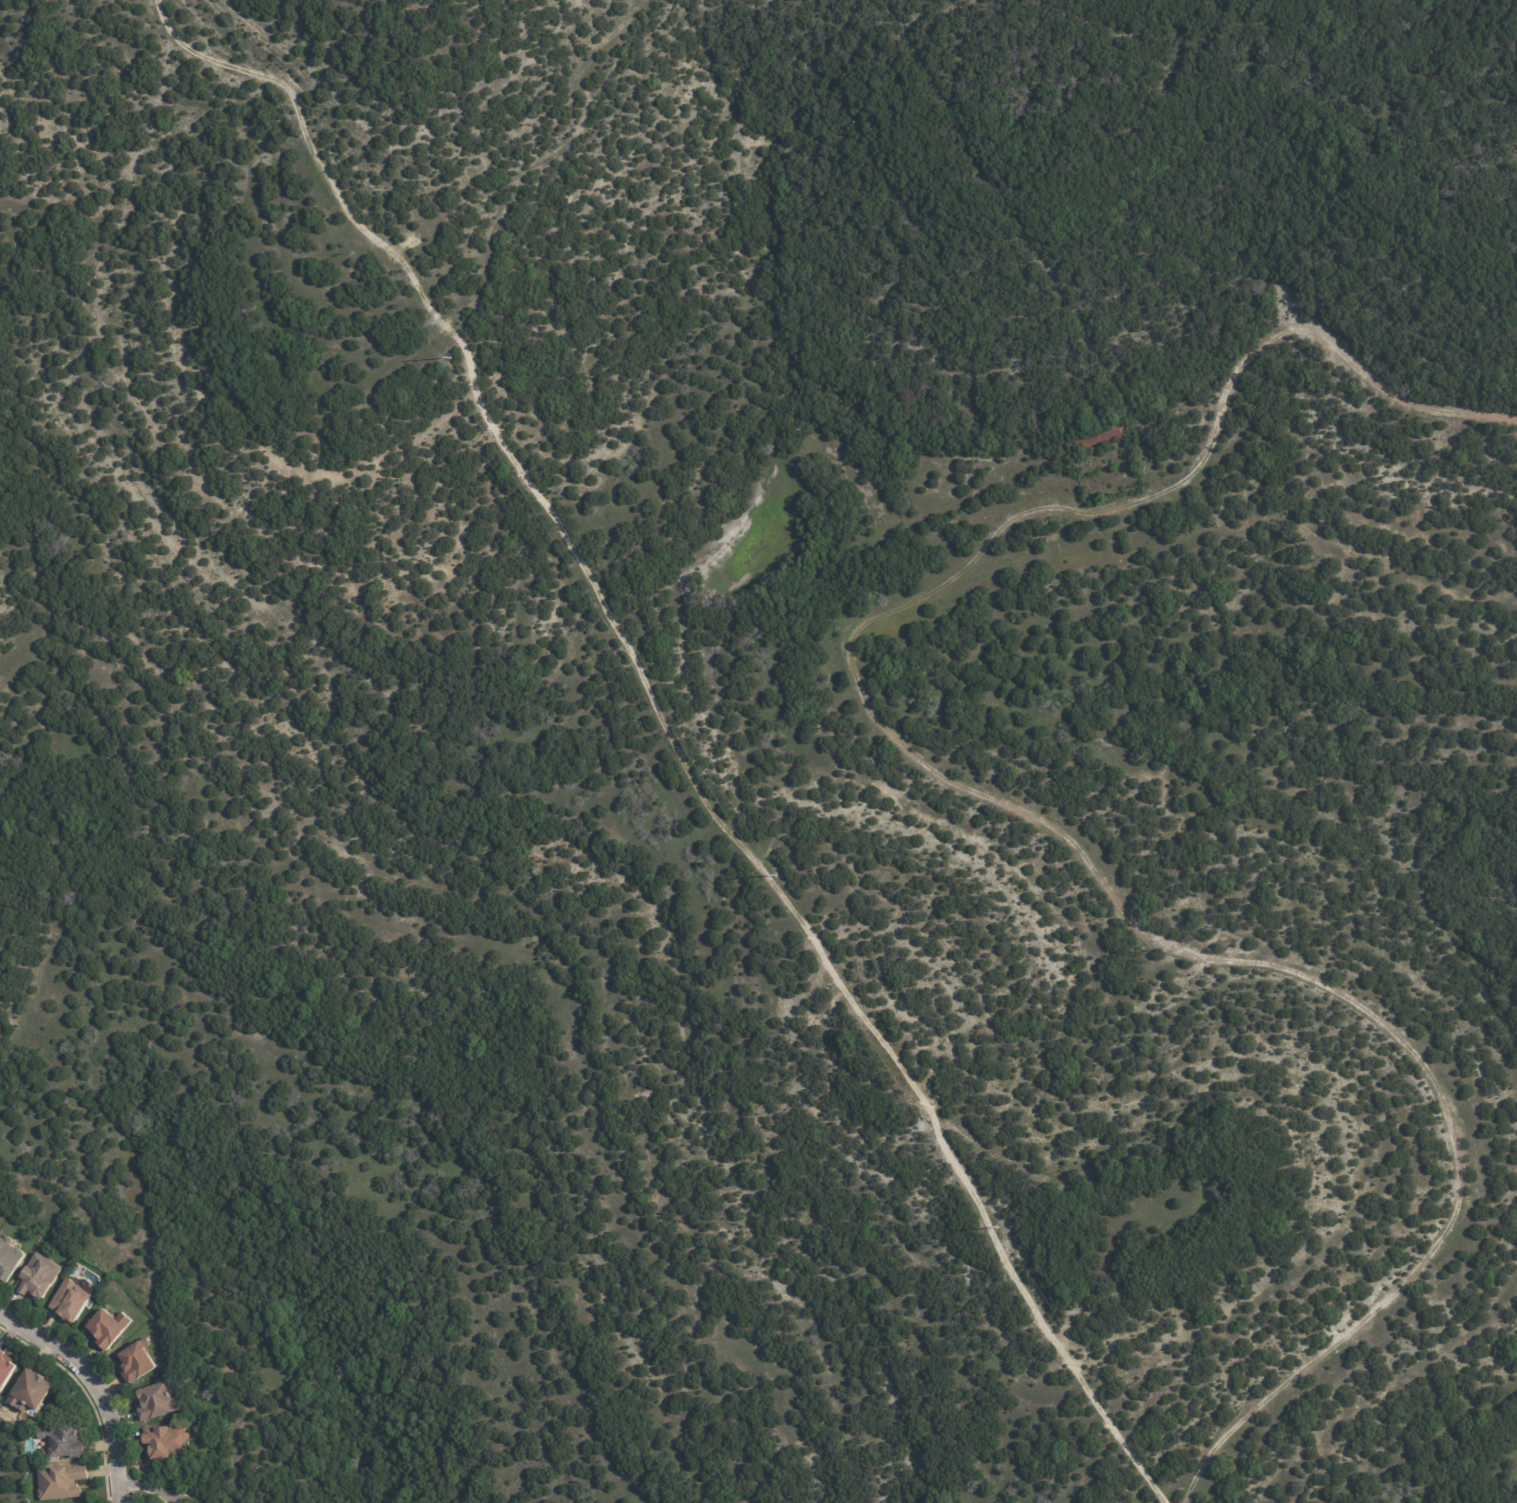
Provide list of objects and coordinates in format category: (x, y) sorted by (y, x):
power tower: (451, 358)
building: (1093, 438)
road: (1002, 799)
power tower: (774, 875)
power tower: (994, 1226)
building: (11, 1260)
building: (40, 1278)
building: (72, 1302)
building: (109, 1327)
building: (139, 1362)
building: (6, 1371)
road: (91, 1391)
building: (33, 1392)
building: (160, 1403)
building: (65, 1443)
building: (169, 1444)
building: (63, 1483)

